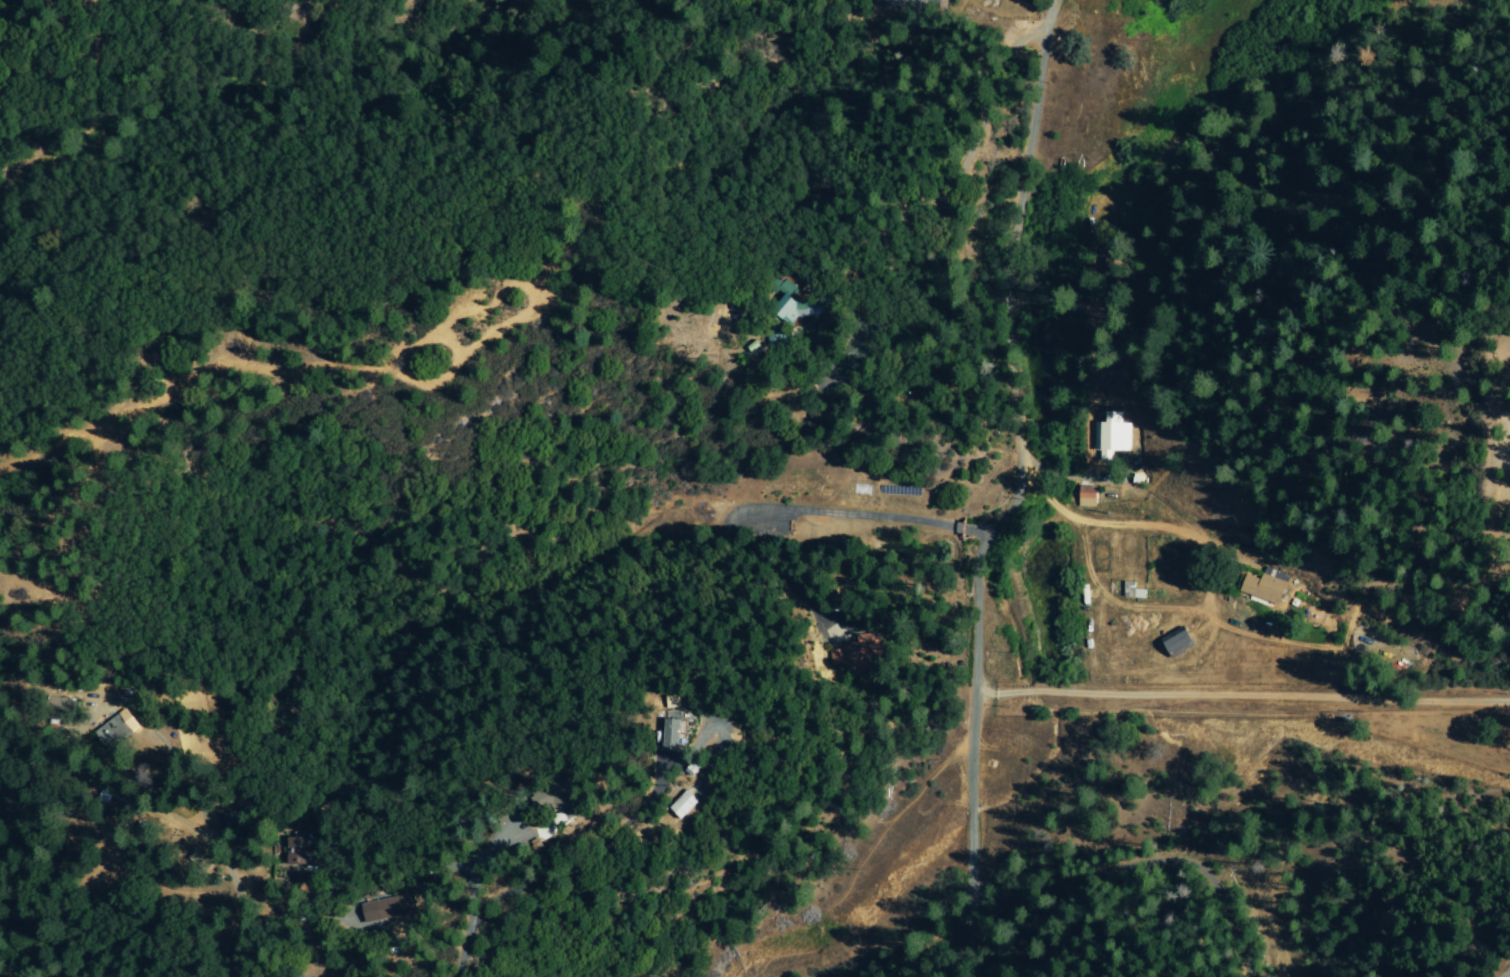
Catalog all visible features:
building: (908, 3)
road: (940, 247)
building: (789, 306)
road: (1017, 459)
building: (1088, 496)
road: (787, 510)
road: (1121, 525)
building: (1264, 588)
building: (1133, 591)
building: (1179, 642)
building: (864, 654)
road: (1240, 696)
building: (114, 731)
building: (673, 734)
road: (162, 742)
building: (682, 804)
building: (299, 849)
road: (240, 910)
building: (391, 910)
road: (472, 926)
road: (942, 943)

